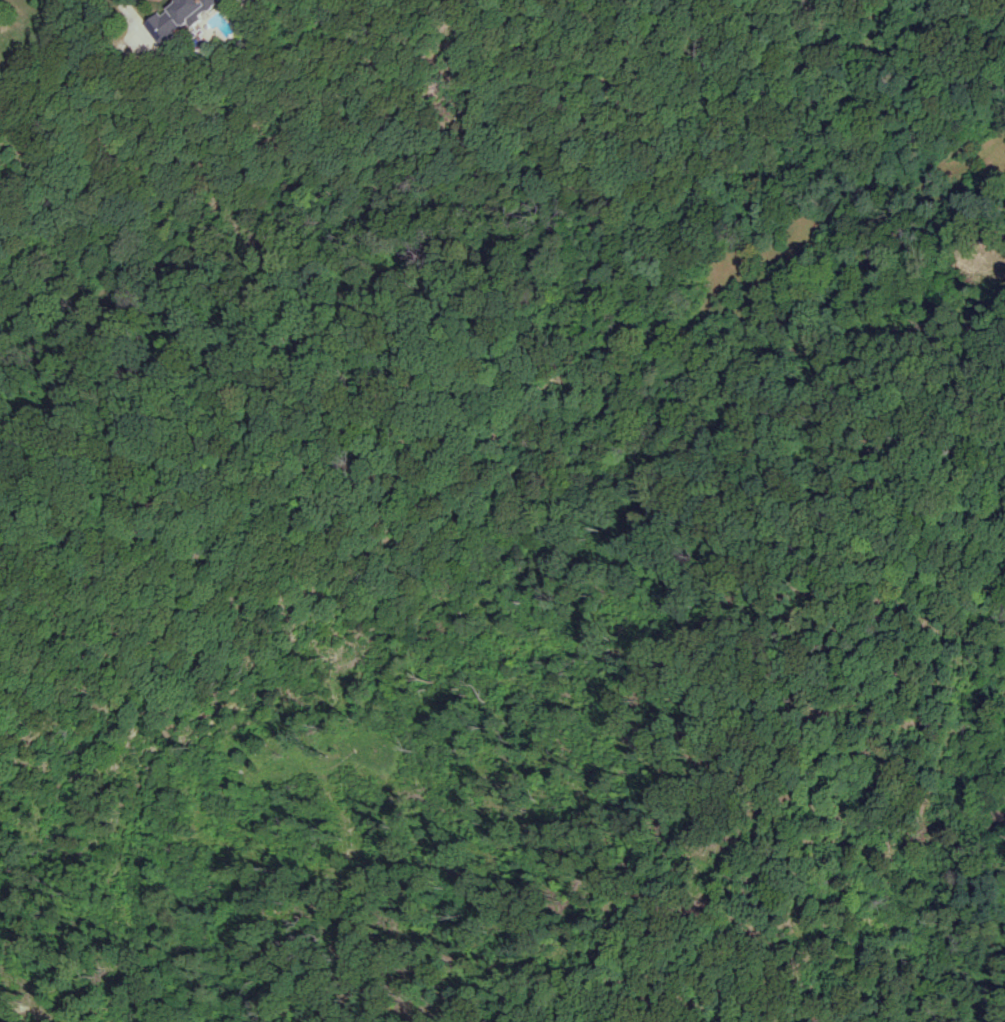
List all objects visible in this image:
building: (177, 17)
road: (137, 20)

